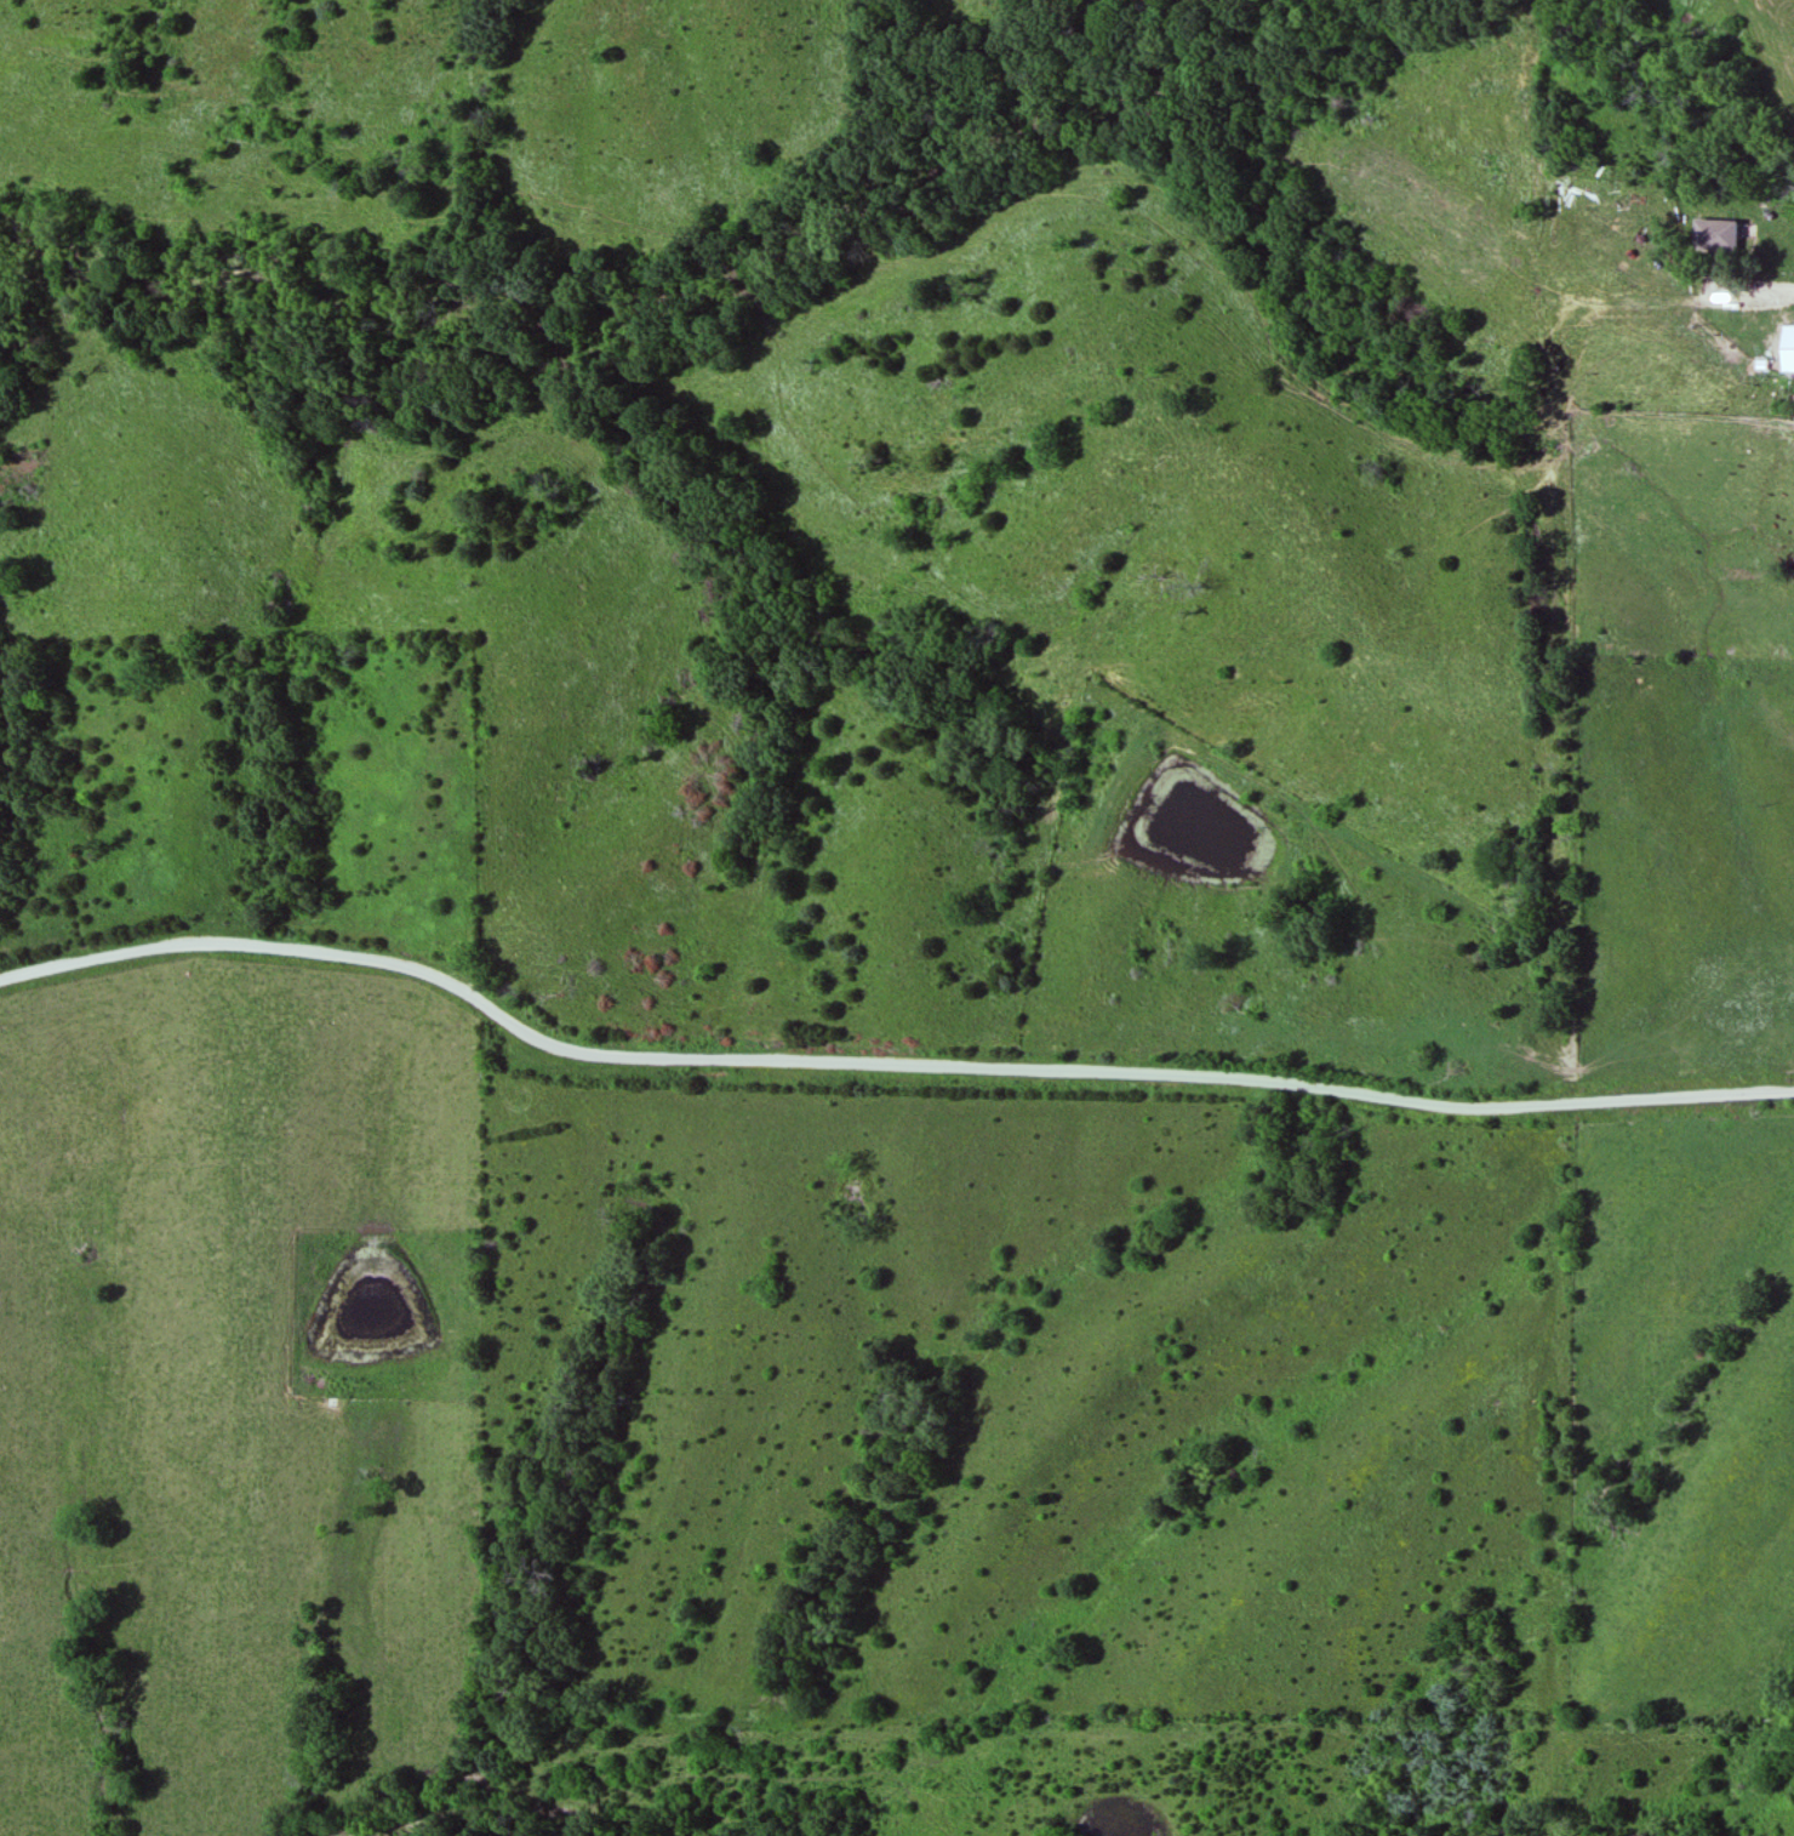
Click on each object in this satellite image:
building: (1718, 236)
road: (1754, 287)
building: (1789, 349)
road: (885, 1067)

